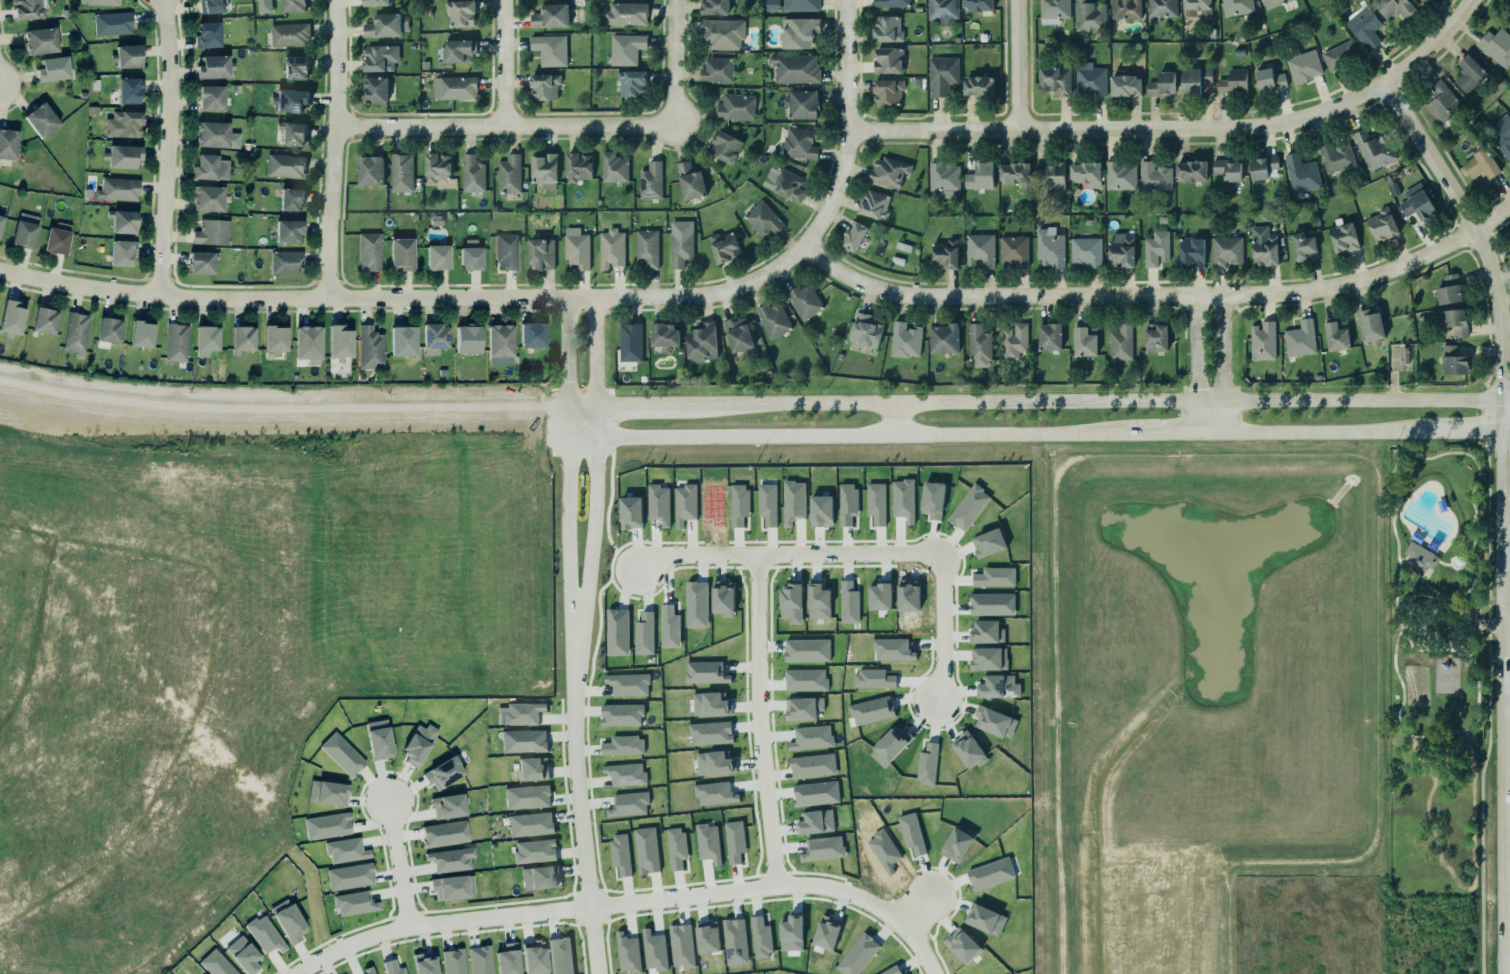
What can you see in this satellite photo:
building: (1423, 1)
building: (99, 2)
building: (376, 2)
building: (891, 2)
building: (1271, 2)
building: (978, 4)
building: (293, 5)
building: (772, 5)
building: (801, 5)
building: (209, 6)
building: (1236, 6)
building: (1507, 6)
building: (714, 7)
building: (1197, 8)
building: (1395, 8)
building: (29, 9)
building: (1126, 9)
building: (1160, 9)
building: (1054, 10)
building: (941, 11)
building: (461, 12)
building: (624, 13)
building: (549, 15)
building: (1088, 15)
building: (1508, 22)
building: (113, 24)
building: (384, 24)
building: (1364, 27)
building: (886, 28)
building: (799, 32)
building: (723, 33)
building: (290, 34)
building: (206, 35)
building: (39, 41)
road: (1432, 45)
building: (1495, 45)
building: (548, 47)
building: (625, 48)
building: (457, 49)
building: (1339, 55)
building: (128, 57)
building: (380, 57)
building: (888, 60)
road: (673, 61)
road: (503, 64)
road: (1023, 64)
road: (845, 65)
building: (212, 66)
building: (1304, 66)
building: (295, 67)
building: (51, 68)
building: (796, 68)
building: (715, 69)
building: (1469, 73)
building: (942, 75)
building: (1089, 77)
building: (1055, 78)
building: (1195, 80)
building: (1270, 80)
building: (1233, 82)
building: (632, 83)
building: (1160, 84)
building: (543, 85)
building: (1123, 85)
building: (977, 86)
building: (454, 87)
building: (376, 89)
building: (130, 90)
building: (886, 91)
building: (208, 97)
building: (289, 100)
building: (801, 103)
building: (1443, 103)
building: (734, 106)
building: (1509, 109)
building: (40, 119)
building: (122, 124)
road: (505, 127)
road: (1118, 127)
building: (291, 133)
building: (210, 134)
building: (1503, 134)
building: (798, 141)
building: (7, 143)
road: (166, 146)
building: (723, 146)
road: (334, 149)
building: (1374, 149)
building: (121, 156)
building: (1334, 157)
building: (1480, 164)
building: (284, 165)
building: (435, 166)
building: (209, 167)
building: (579, 167)
building: (612, 167)
building: (1264, 167)
building: (542, 168)
building: (368, 170)
building: (1191, 170)
building: (1228, 170)
building: (889, 171)
building: (1085, 171)
building: (1015, 172)
building: (402, 173)
building: (471, 173)
building: (507, 173)
building: (1300, 173)
building: (1050, 174)
building: (1120, 174)
building: (942, 176)
building: (979, 176)
building: (1153, 176)
building: (649, 180)
building: (688, 181)
building: (784, 183)
building: (116, 189)
building: (205, 198)
building: (290, 198)
building: (1416, 203)
building: (874, 205)
road: (1492, 218)
building: (762, 219)
building: (1, 221)
building: (121, 221)
building: (1381, 224)
road: (1473, 229)
building: (23, 231)
building: (287, 231)
building: (210, 232)
building: (853, 235)
building: (1343, 237)
building: (54, 241)
building: (679, 241)
building: (723, 245)
building: (1049, 245)
building: (1262, 246)
building: (1304, 246)
building: (577, 247)
building: (612, 248)
building: (647, 248)
building: (1156, 248)
building: (979, 249)
building: (1013, 250)
building: (1121, 250)
building: (1225, 250)
building: (506, 251)
building: (1086, 251)
building: (1191, 251)
building: (369, 252)
building: (122, 253)
building: (540, 253)
building: (400, 254)
building: (946, 254)
building: (469, 255)
building: (436, 258)
building: (285, 262)
building: (199, 263)
building: (1450, 290)
road: (1141, 296)
road: (473, 299)
building: (803, 300)
building: (10, 318)
building: (772, 319)
building: (43, 320)
building: (1455, 322)
building: (1371, 326)
building: (108, 330)
building: (865, 330)
building: (74, 333)
building: (142, 334)
building: (663, 334)
building: (739, 334)
building: (1335, 334)
building: (532, 335)
building: (433, 336)
building: (1050, 336)
building: (1155, 337)
building: (944, 338)
building: (1299, 338)
building: (466, 339)
building: (906, 339)
building: (207, 340)
building: (242, 340)
building: (274, 340)
building: (1015, 340)
building: (403, 341)
building: (500, 341)
building: (629, 341)
building: (1083, 341)
building: (1261, 341)
building: (339, 342)
building: (700, 342)
building: (1121, 342)
building: (176, 343)
building: (306, 344)
building: (980, 346)
building: (368, 348)
road: (564, 353)
road: (592, 353)
building: (1405, 355)
building: (1452, 361)
road: (1196, 363)
road: (1223, 364)
road: (1506, 397)
road: (1198, 399)
road: (710, 405)
road: (896, 418)
road: (1506, 429)
road: (1322, 430)
road: (1469, 430)
road: (1168, 431)
road: (840, 432)
road: (274, 438)
road: (1484, 443)
road: (1485, 448)
road: (1449, 452)
road: (1392, 483)
road: (1469, 497)
building: (903, 498)
building: (794, 501)
building: (659, 503)
building: (685, 503)
building: (631, 512)
road: (567, 530)
road: (589, 530)
road: (1486, 534)
road: (913, 556)
road: (1401, 557)
building: (1419, 557)
road: (1461, 559)
road: (1442, 562)
road: (1432, 564)
road: (1398, 568)
road: (1475, 573)
building: (995, 576)
road: (1430, 588)
building: (880, 596)
building: (723, 598)
building: (819, 601)
building: (849, 602)
building: (992, 603)
building: (696, 604)
road: (1418, 606)
road: (1396, 616)
road: (1424, 617)
parking lot: (1455, 623)
road: (1486, 624)
road: (1475, 625)
building: (670, 626)
road: (1405, 628)
road: (1425, 629)
building: (985, 631)
road: (35, 634)
building: (645, 634)
road: (1411, 638)
road: (1451, 644)
building: (892, 649)
road: (1419, 649)
building: (807, 650)
building: (988, 658)
road: (755, 660)
park: (1439, 669)
building: (706, 672)
building: (873, 678)
road: (208, 679)
building: (805, 679)
road: (1400, 681)
building: (628, 684)
park: (1416, 684)
road: (1502, 685)
road: (1506, 685)
building: (999, 686)
road: (1477, 689)
building: (711, 703)
road: (1487, 703)
building: (804, 708)
building: (872, 710)
building: (523, 713)
building: (622, 714)
road: (1434, 730)
building: (711, 733)
building: (812, 737)
building: (522, 738)
building: (379, 740)
building: (621, 742)
building: (418, 744)
building: (969, 750)
building: (340, 752)
road: (1415, 757)
building: (715, 762)
building: (531, 764)
building: (813, 765)
building: (441, 769)
building: (626, 774)
road: (1471, 788)
building: (328, 793)
building: (715, 793)
building: (816, 793)
building: (525, 794)
building: (629, 804)
building: (447, 806)
road: (579, 814)
building: (528, 821)
building: (816, 821)
building: (327, 826)
building: (444, 834)
road: (1432, 834)
building: (735, 841)
building: (709, 842)
building: (677, 847)
building: (533, 848)
building: (823, 848)
building: (345, 850)
building: (647, 850)
building: (450, 859)
road: (391, 865)
road: (1472, 873)
road: (1480, 874)
building: (349, 876)
building: (540, 877)
road: (778, 884)
building: (451, 887)
building: (354, 903)
road: (913, 909)
building: (986, 919)
building: (288, 921)
road: (437, 922)
building: (827, 931)
building: (791, 933)
building: (264, 934)
building: (708, 936)
building: (761, 936)
building: (735, 941)
building: (682, 945)
building: (963, 945)
building: (655, 950)
building: (531, 952)
building: (558, 953)
building: (628, 953)
building: (858, 954)
building: (243, 955)
building: (508, 959)
building: (480, 960)
building: (453, 962)
building: (424, 963)
building: (216, 964)
building: (392, 967)
building: (368, 970)
building: (892, 970)
building: (204, 973)

